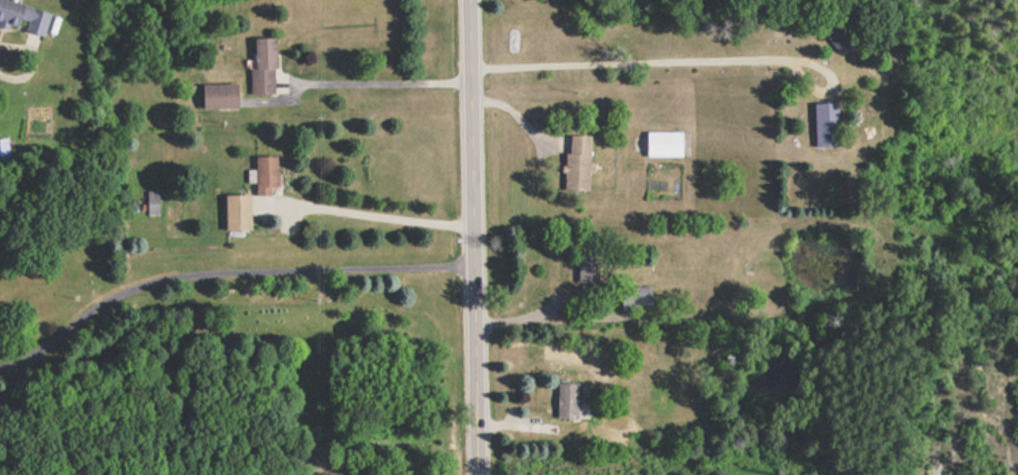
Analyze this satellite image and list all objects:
building: (22, 16)
building: (837, 33)
road: (642, 60)
building: (262, 66)
road: (383, 77)
building: (217, 95)
building: (825, 124)
building: (666, 143)
building: (576, 161)
building: (264, 174)
building: (151, 202)
building: (235, 211)
road: (382, 214)
road: (474, 237)
road: (225, 269)
building: (586, 269)
building: (634, 297)
building: (575, 352)
building: (566, 399)

